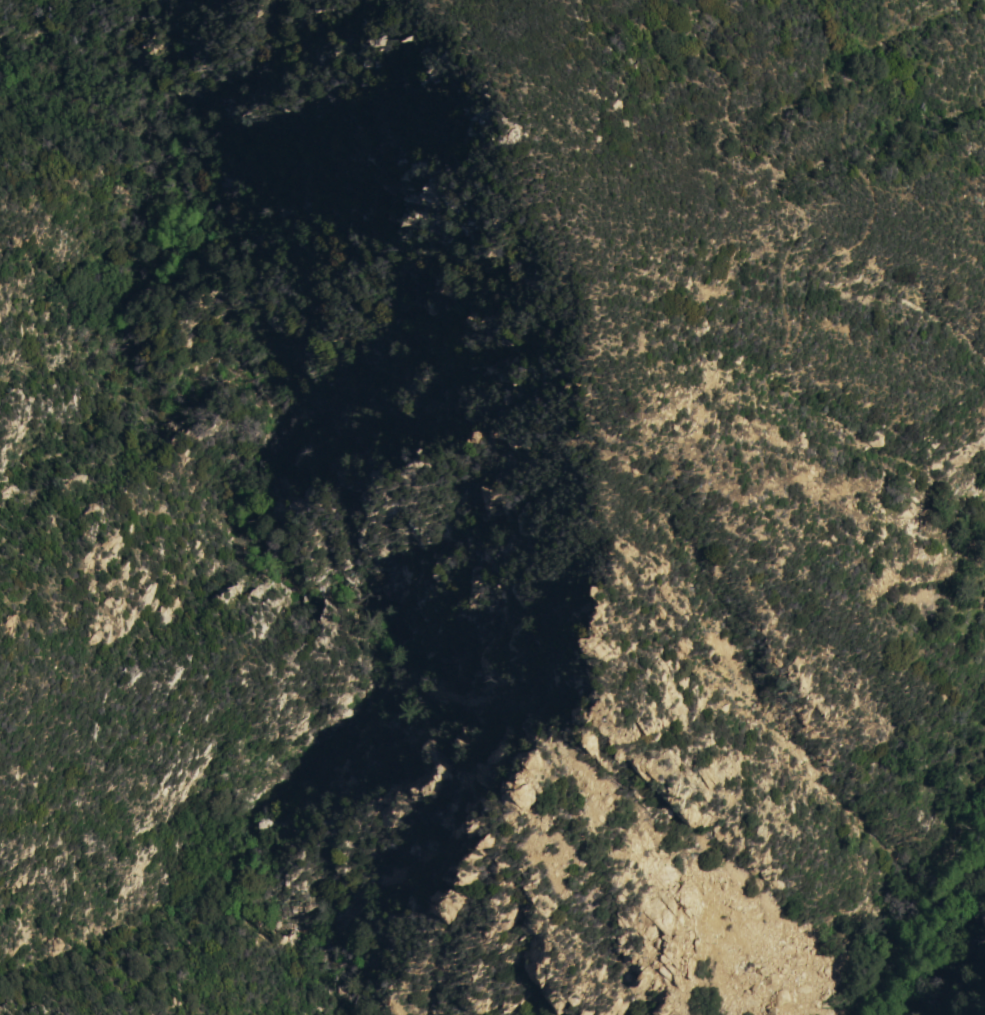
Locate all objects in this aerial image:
road: (787, 341)
road: (937, 970)

